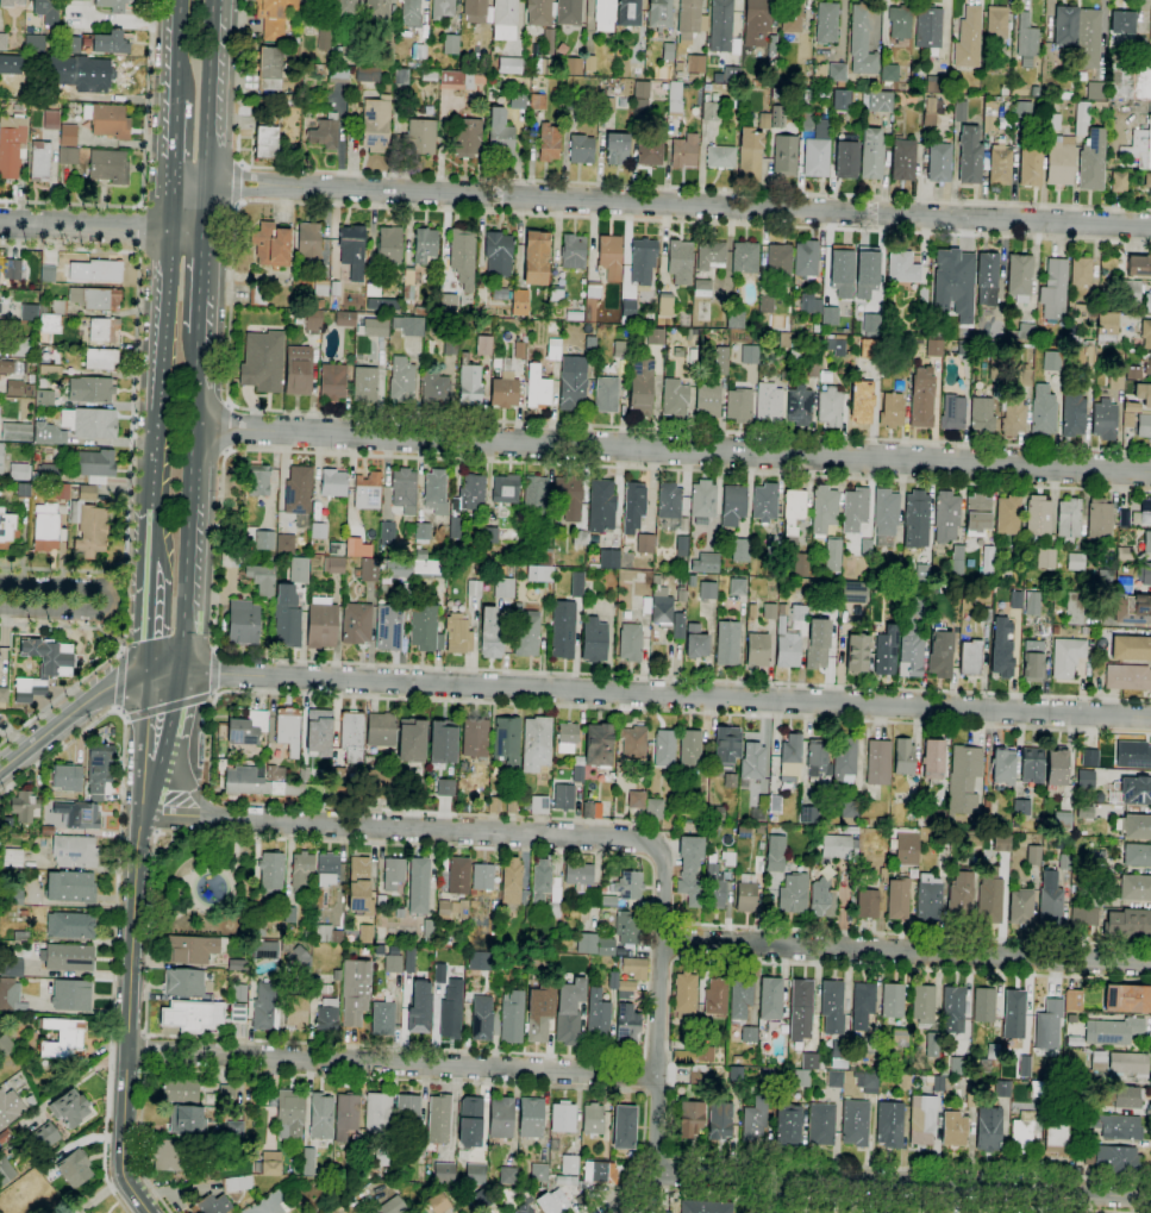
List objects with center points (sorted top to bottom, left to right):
building: (314, 1)
building: (11, 2)
building: (112, 5)
building: (345, 10)
building: (376, 10)
building: (442, 10)
building: (46, 11)
building: (475, 11)
building: (538, 12)
building: (568, 12)
building: (628, 13)
building: (411, 14)
building: (603, 14)
building: (659, 14)
building: (274, 17)
building: (792, 17)
building: (505, 19)
building: (688, 19)
building: (757, 21)
building: (1121, 21)
building: (826, 23)
building: (900, 23)
building: (995, 23)
building: (719, 25)
building: (1065, 25)
building: (927, 26)
road: (175, 38)
building: (968, 38)
building: (1088, 38)
building: (324, 39)
building: (1026, 39)
building: (862, 40)
building: (2, 42)
building: (33, 43)
building: (96, 44)
building: (451, 44)
building: (1139, 44)
building: (772, 46)
building: (420, 51)
building: (668, 51)
building: (346, 55)
building: (46, 61)
building: (589, 63)
building: (1013, 64)
building: (509, 65)
building: (544, 65)
building: (573, 65)
building: (695, 67)
building: (269, 68)
building: (820, 70)
building: (837, 73)
building: (889, 73)
building: (338, 74)
building: (90, 75)
building: (368, 75)
building: (430, 75)
building: (731, 75)
building: (400, 76)
building: (1130, 76)
building: (459, 80)
building: (934, 83)
building: (707, 87)
building: (1018, 89)
building: (1095, 90)
building: (1064, 95)
building: (640, 96)
building: (675, 96)
building: (856, 96)
building: (839, 99)
building: (518, 100)
building: (537, 101)
building: (877, 101)
building: (571, 102)
building: (606, 105)
building: (711, 108)
building: (1022, 108)
building: (931, 111)
building: (959, 111)
building: (1086, 113)
building: (989, 115)
road: (215, 117)
building: (776, 117)
building: (50, 120)
building: (764, 120)
building: (1046, 120)
building: (107, 121)
building: (805, 121)
building: (375, 125)
road: (171, 130)
building: (323, 130)
building: (500, 135)
building: (68, 136)
building: (267, 136)
building: (420, 136)
building: (465, 137)
building: (549, 142)
building: (11, 145)
building: (1139, 146)
building: (617, 148)
building: (581, 149)
building: (649, 151)
building: (684, 151)
building: (871, 154)
building: (750, 155)
building: (786, 155)
building: (68, 156)
building: (969, 156)
building: (720, 157)
building: (817, 157)
building: (845, 160)
building: (903, 160)
building: (1059, 160)
building: (39, 161)
building: (1091, 161)
building: (938, 162)
building: (999, 164)
building: (108, 165)
building: (1030, 165)
road: (142, 173)
building: (1119, 181)
road: (613, 183)
building: (1147, 183)
road: (239, 185)
road: (661, 202)
road: (102, 229)
road: (139, 229)
building: (352, 238)
building: (308, 240)
building: (425, 244)
building: (271, 245)
building: (388, 245)
building: (573, 251)
building: (498, 254)
building: (709, 255)
building: (609, 256)
building: (62, 257)
building: (463, 257)
building: (745, 257)
building: (536, 258)
building: (806, 258)
building: (643, 261)
building: (680, 262)
building: (778, 262)
building: (1139, 265)
building: (902, 268)
building: (12, 269)
building: (102, 270)
building: (842, 270)
building: (1081, 270)
building: (48, 274)
building: (865, 274)
building: (1019, 276)
building: (986, 280)
building: (955, 282)
road: (204, 283)
building: (408, 283)
building: (702, 285)
building: (334, 288)
building: (320, 289)
building: (1053, 289)
building: (371, 290)
building: (594, 290)
building: (1128, 292)
building: (556, 293)
building: (500, 294)
building: (259, 295)
building: (449, 298)
building: (95, 299)
building: (520, 301)
building: (1147, 302)
building: (388, 305)
building: (665, 305)
building: (767, 305)
building: (811, 306)
building: (43, 307)
building: (58, 307)
building: (627, 307)
road: (230, 309)
building: (425, 311)
building: (29, 312)
building: (920, 312)
building: (1082, 313)
building: (300, 319)
building: (345, 319)
building: (313, 320)
building: (736, 320)
building: (48, 323)
building: (870, 324)
building: (408, 325)
building: (1106, 326)
building: (374, 327)
building: (102, 329)
building: (1021, 332)
building: (1146, 333)
building: (653, 336)
building: (784, 339)
building: (1072, 339)
building: (450, 344)
building: (590, 344)
building: (833, 344)
building: (483, 345)
road: (165, 346)
building: (20, 348)
building: (965, 348)
building: (553, 349)
building: (934, 349)
building: (520, 350)
building: (621, 350)
building: (749, 355)
building: (1083, 355)
road: (202, 356)
building: (794, 357)
building: (101, 359)
building: (721, 361)
building: (263, 362)
building: (1052, 362)
building: (1147, 365)
building: (6, 367)
building: (813, 367)
building: (49, 370)
building: (298, 370)
building: (1022, 375)
building: (1115, 380)
building: (332, 382)
building: (401, 382)
building: (469, 382)
building: (573, 382)
building: (364, 383)
building: (537, 386)
building: (640, 386)
building: (897, 386)
building: (14, 388)
building: (29, 389)
building: (90, 389)
building: (434, 389)
building: (505, 390)
building: (1143, 393)
building: (606, 394)
building: (44, 398)
building: (675, 399)
road: (132, 401)
building: (921, 401)
building: (707, 402)
building: (768, 402)
building: (861, 402)
building: (739, 405)
building: (799, 406)
building: (828, 407)
building: (1131, 407)
building: (892, 411)
building: (952, 412)
building: (1043, 412)
building: (1072, 414)
building: (982, 415)
building: (1013, 418)
building: (1103, 420)
building: (1127, 420)
building: (89, 423)
building: (1144, 425)
road: (227, 429)
building: (17, 432)
building: (48, 434)
road: (676, 449)
building: (1, 457)
building: (95, 463)
building: (19, 471)
building: (49, 473)
building: (258, 480)
building: (333, 482)
building: (404, 487)
building: (505, 489)
building: (24, 490)
building: (299, 490)
building: (367, 490)
building: (61, 492)
building: (436, 492)
building: (87, 493)
building: (470, 494)
building: (536, 494)
building: (570, 496)
building: (703, 499)
building: (765, 502)
building: (670, 504)
building: (733, 505)
building: (601, 506)
building: (633, 506)
building: (824, 509)
building: (855, 509)
building: (1145, 511)
building: (793, 512)
building: (977, 513)
building: (886, 514)
building: (1007, 515)
building: (945, 517)
building: (1038, 517)
building: (1124, 518)
building: (915, 519)
building: (1099, 519)
building: (1068, 520)
building: (45, 527)
building: (455, 527)
building: (7, 529)
building: (88, 529)
road: (195, 529)
building: (319, 531)
building: (423, 531)
road: (154, 533)
building: (508, 533)
building: (387, 534)
building: (490, 534)
building: (578, 538)
building: (264, 539)
building: (1146, 542)
building: (645, 543)
building: (286, 544)
building: (774, 544)
building: (681, 546)
building: (357, 548)
building: (865, 548)
building: (336, 549)
building: (740, 550)
building: (420, 554)
building: (1016, 554)
building: (1125, 554)
building: (833, 555)
building: (540, 556)
road: (218, 557)
building: (608, 558)
building: (957, 558)
building: (988, 558)
building: (1045, 558)
road: (139, 559)
building: (229, 559)
building: (1076, 562)
building: (706, 563)
building: (801, 564)
building: (333, 565)
building: (299, 569)
building: (398, 569)
building: (430, 569)
building: (369, 570)
building: (1144, 573)
building: (539, 574)
building: (261, 579)
road: (98, 580)
building: (682, 580)
building: (575, 583)
building: (1124, 584)
road: (58, 586)
building: (737, 587)
building: (474, 588)
building: (503, 588)
building: (707, 590)
building: (853, 593)
building: (681, 594)
road: (125, 601)
building: (1032, 604)
building: (1074, 608)
building: (662, 609)
building: (1132, 609)
road: (57, 611)
building: (751, 611)
building: (769, 611)
building: (797, 612)
building: (984, 615)
road: (150, 617)
building: (287, 618)
building: (243, 623)
building: (356, 624)
building: (321, 625)
building: (678, 625)
building: (388, 627)
building: (425, 627)
building: (563, 629)
building: (457, 634)
building: (490, 634)
building: (526, 634)
building: (911, 637)
building: (594, 640)
building: (695, 642)
building: (630, 643)
building: (818, 643)
building: (727, 644)
building: (788, 645)
building: (1001, 648)
building: (1131, 648)
building: (757, 650)
building: (886, 651)
building: (940, 652)
building: (856, 654)
road: (113, 656)
building: (1066, 656)
building: (970, 658)
building: (1031, 661)
building: (42, 667)
traffic signals: (169, 674)
road: (214, 674)
building: (1127, 677)
road: (120, 679)
road: (659, 694)
building: (4, 698)
road: (414, 700)
road: (162, 705)
road: (169, 706)
road: (77, 708)
building: (248, 729)
building: (380, 729)
building: (288, 731)
building: (319, 732)
building: (633, 736)
building: (351, 737)
building: (567, 737)
building: (475, 738)
building: (409, 739)
building: (440, 743)
building: (506, 743)
building: (536, 744)
building: (599, 745)
building: (726, 746)
building: (664, 748)
building: (689, 748)
road: (154, 749)
building: (1132, 755)
building: (790, 756)
building: (903, 757)
building: (1089, 757)
building: (932, 759)
building: (577, 761)
building: (844, 761)
building: (752, 762)
building: (818, 762)
building: (878, 762)
building: (1031, 765)
building: (463, 767)
building: (1002, 767)
building: (1056, 769)
building: (99, 770)
building: (274, 773)
building: (304, 774)
building: (577, 774)
building: (340, 775)
building: (65, 777)
building: (1086, 779)
building: (730, 781)
building: (964, 782)
building: (276, 784)
building: (377, 784)
building: (443, 787)
road: (190, 788)
road: (146, 789)
building: (1136, 789)
building: (563, 796)
building: (636, 799)
building: (763, 802)
building: (494, 805)
building: (537, 805)
building: (512, 806)
building: (24, 807)
building: (1021, 807)
building: (653, 809)
building: (850, 809)
building: (592, 811)
building: (714, 813)
building: (79, 814)
building: (758, 814)
building: (808, 814)
building: (934, 818)
building: (1061, 819)
building: (882, 824)
building: (6, 825)
building: (1133, 826)
road: (400, 827)
building: (1000, 842)
building: (837, 849)
building: (907, 849)
building: (74, 851)
building: (775, 854)
building: (1033, 855)
building: (1137, 855)
building: (727, 857)
building: (12, 858)
building: (1099, 858)
road: (648, 862)
building: (1064, 862)
building: (943, 868)
building: (327, 869)
building: (689, 869)
building: (271, 870)
building: (301, 871)
building: (393, 874)
building: (458, 876)
building: (578, 876)
building: (482, 877)
building: (444, 880)
building: (540, 880)
building: (512, 881)
building: (419, 886)
building: (628, 886)
building: (70, 887)
road: (118, 887)
park: (201, 887)
building: (714, 887)
building: (1134, 887)
building: (359, 888)
building: (793, 893)
building: (15, 894)
building: (745, 895)
building: (989, 896)
building: (897, 899)
building: (928, 899)
building: (959, 899)
building: (381, 900)
building: (820, 900)
building: (1050, 900)
building: (1093, 900)
building: (607, 901)
building: (867, 904)
building: (1020, 906)
building: (459, 908)
building: (444, 909)
building: (553, 911)
building: (399, 913)
building: (289, 914)
building: (1084, 915)
building: (70, 925)
road: (674, 925)
building: (1128, 925)
building: (627, 927)
building: (429, 928)
building: (326, 933)
building: (365, 933)
building: (21, 936)
road: (913, 936)
road: (674, 942)
building: (442, 943)
building: (587, 944)
building: (606, 948)
building: (190, 949)
building: (265, 950)
road: (905, 950)
building: (295, 955)
building: (68, 957)
building: (409, 961)
building: (480, 961)
building: (392, 963)
building: (238, 964)
road: (814, 964)
building: (12, 968)
building: (634, 968)
building: (439, 974)
building: (336, 975)
building: (183, 982)
building: (626, 986)
building: (326, 989)
building: (355, 992)
building: (548, 992)
building: (239, 993)
building: (8, 994)
building: (71, 995)
building: (684, 995)
building: (715, 998)
building: (740, 998)
building: (770, 999)
building: (1127, 999)
building: (892, 1000)
building: (1072, 1001)
building: (922, 1003)
building: (862, 1005)
building: (983, 1005)
building: (264, 1007)
building: (831, 1007)
building: (419, 1008)
building: (952, 1008)
building: (451, 1009)
road: (657, 1009)
building: (800, 1009)
building: (569, 1011)
building: (296, 1012)
building: (237, 1013)
building: (1013, 1014)
building: (192, 1015)
building: (326, 1015)
building: (512, 1017)
building: (596, 1017)
building: (382, 1018)
road: (129, 1019)
building: (481, 1019)
building: (1071, 1019)
building: (627, 1023)
building: (1049, 1025)
building: (537, 1027)
building: (1113, 1031)
road: (127, 1032)
building: (749, 1034)
building: (63, 1037)
building: (899, 1038)
building: (1075, 1042)
building: (870, 1043)
building: (932, 1044)
building: (5, 1045)
building: (839, 1050)
road: (144, 1051)
building: (992, 1052)
building: (705, 1053)
building: (683, 1056)
building: (736, 1059)
building: (809, 1061)
road: (392, 1063)
building: (1099, 1064)
building: (1128, 1064)
road: (126, 1068)
building: (955, 1069)
building: (734, 1074)
building: (769, 1074)
road: (639, 1075)
building: (698, 1075)
building: (801, 1077)
building: (834, 1078)
road: (395, 1080)
building: (903, 1081)
building: (867, 1082)
building: (934, 1082)
building: (1001, 1089)
building: (1037, 1089)
building: (180, 1090)
building: (1070, 1090)
building: (225, 1094)
building: (1126, 1096)
building: (971, 1098)
building: (30, 1101)
building: (1084, 1107)
building: (10, 1108)
building: (70, 1108)
building: (290, 1112)
building: (407, 1112)
building: (377, 1113)
building: (345, 1115)
building: (321, 1117)
building: (563, 1117)
building: (186, 1118)
building: (501, 1118)
building: (531, 1118)
building: (690, 1118)
building: (438, 1119)
building: (593, 1119)
building: (921, 1119)
building: (719, 1120)
building: (753, 1120)
building: (470, 1121)
building: (855, 1123)
building: (787, 1124)
building: (821, 1124)
building: (889, 1124)
building: (1118, 1126)
building: (623, 1127)
building: (234, 1128)
building: (953, 1128)
building: (988, 1128)
building: (1021, 1136)
building: (4, 1137)
building: (44, 1137)
building: (1083, 1137)
building: (1057, 1139)
building: (168, 1155)
building: (383, 1156)
building: (1112, 1157)
building: (308, 1161)
building: (270, 1163)
building: (569, 1164)
building: (221, 1168)
building: (74, 1169)
road: (908, 1169)
building: (5, 1170)
building: (444, 1173)
building: (539, 1173)
building: (475, 1174)
building: (596, 1174)
building: (508, 1175)
building: (200, 1176)
building: (565, 1180)
building: (237, 1183)
road: (869, 1183)
building: (288, 1186)
road: (693, 1192)
road: (767, 1195)
building: (521, 1200)
building: (438, 1202)
building: (551, 1202)
road: (783, 1203)
road: (958, 1203)
building: (211, 1205)
building: (390, 1206)
building: (705, 1206)
building: (92, 1212)

